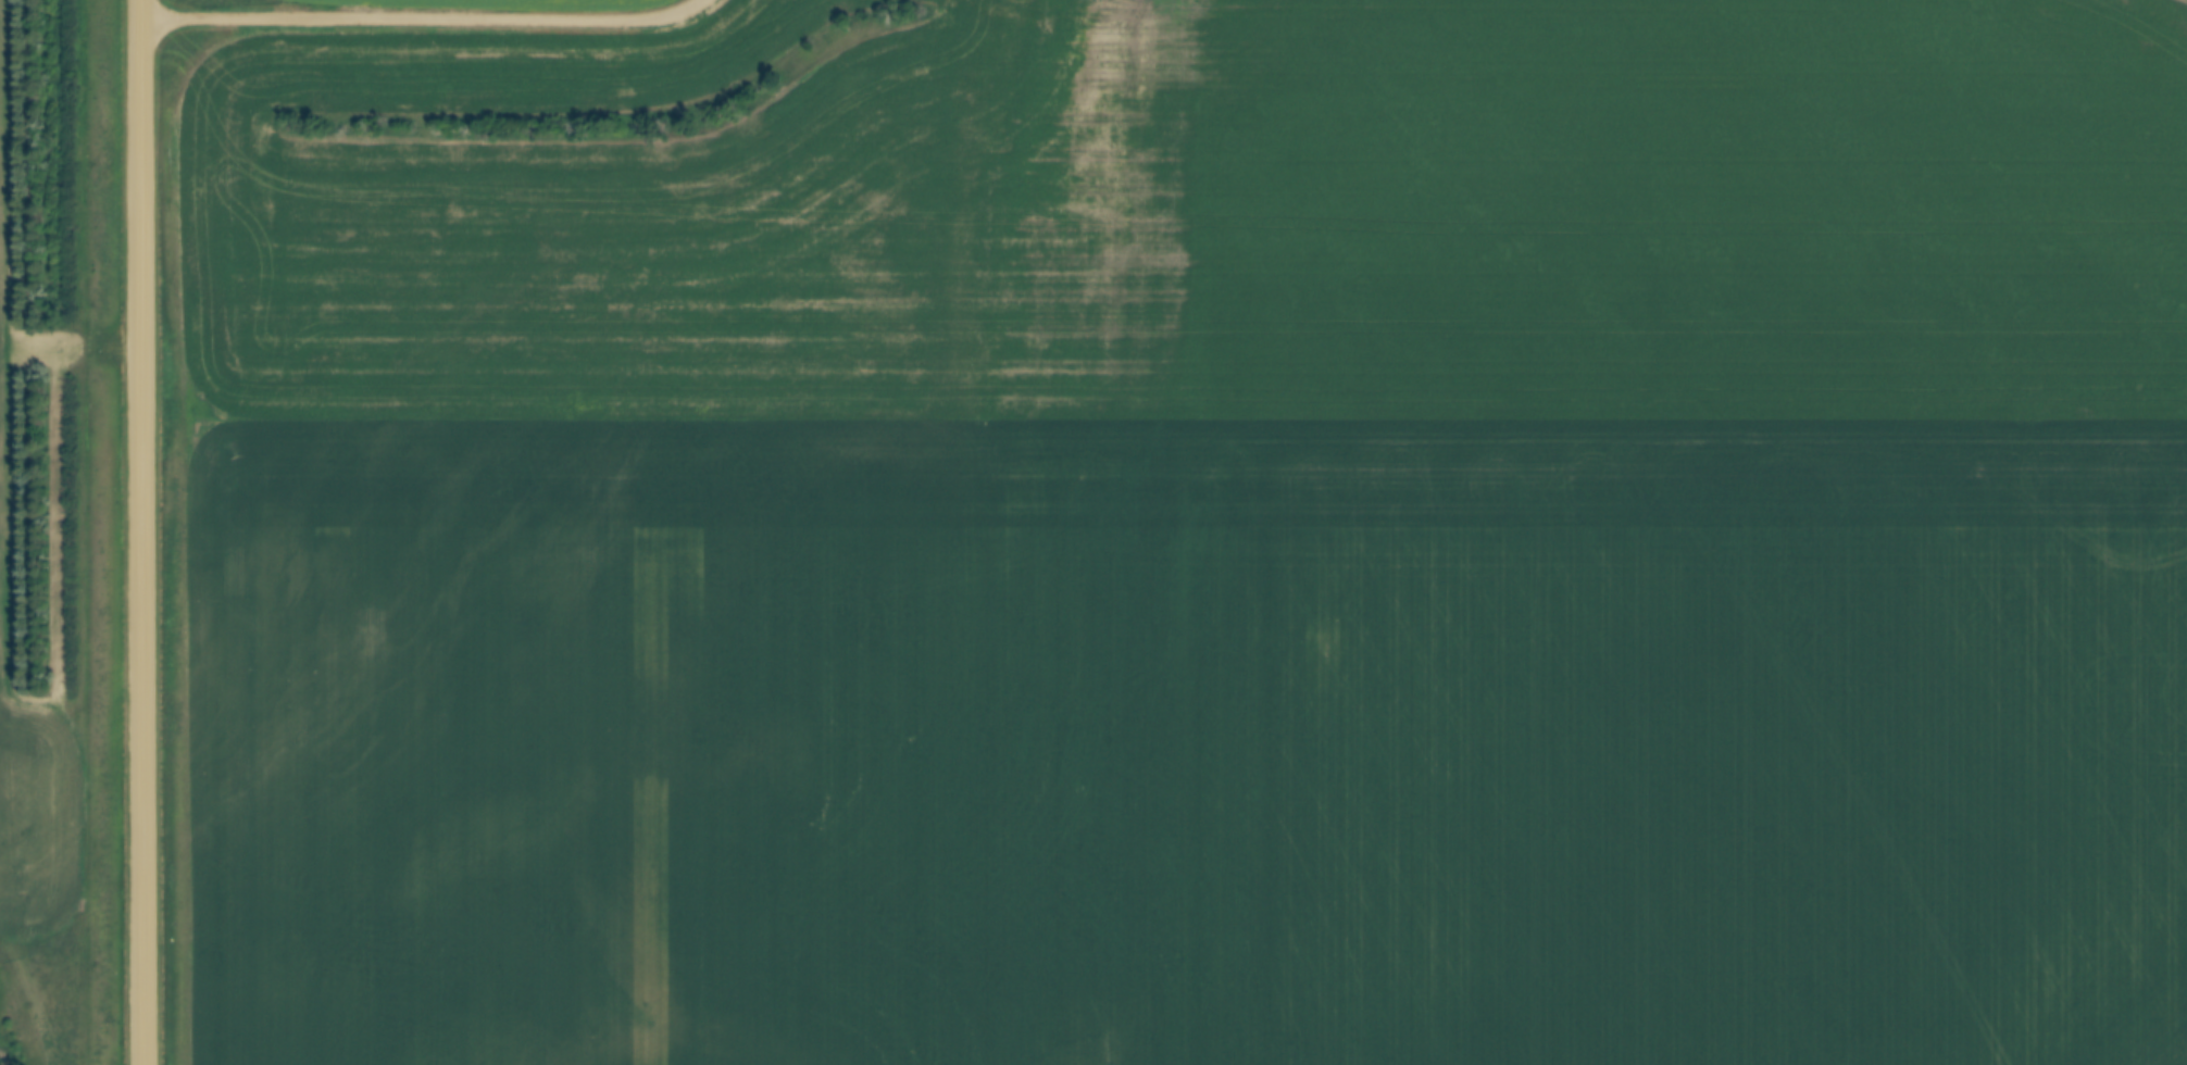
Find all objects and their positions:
road: (424, 21)
road: (139, 531)
road: (33, 994)

